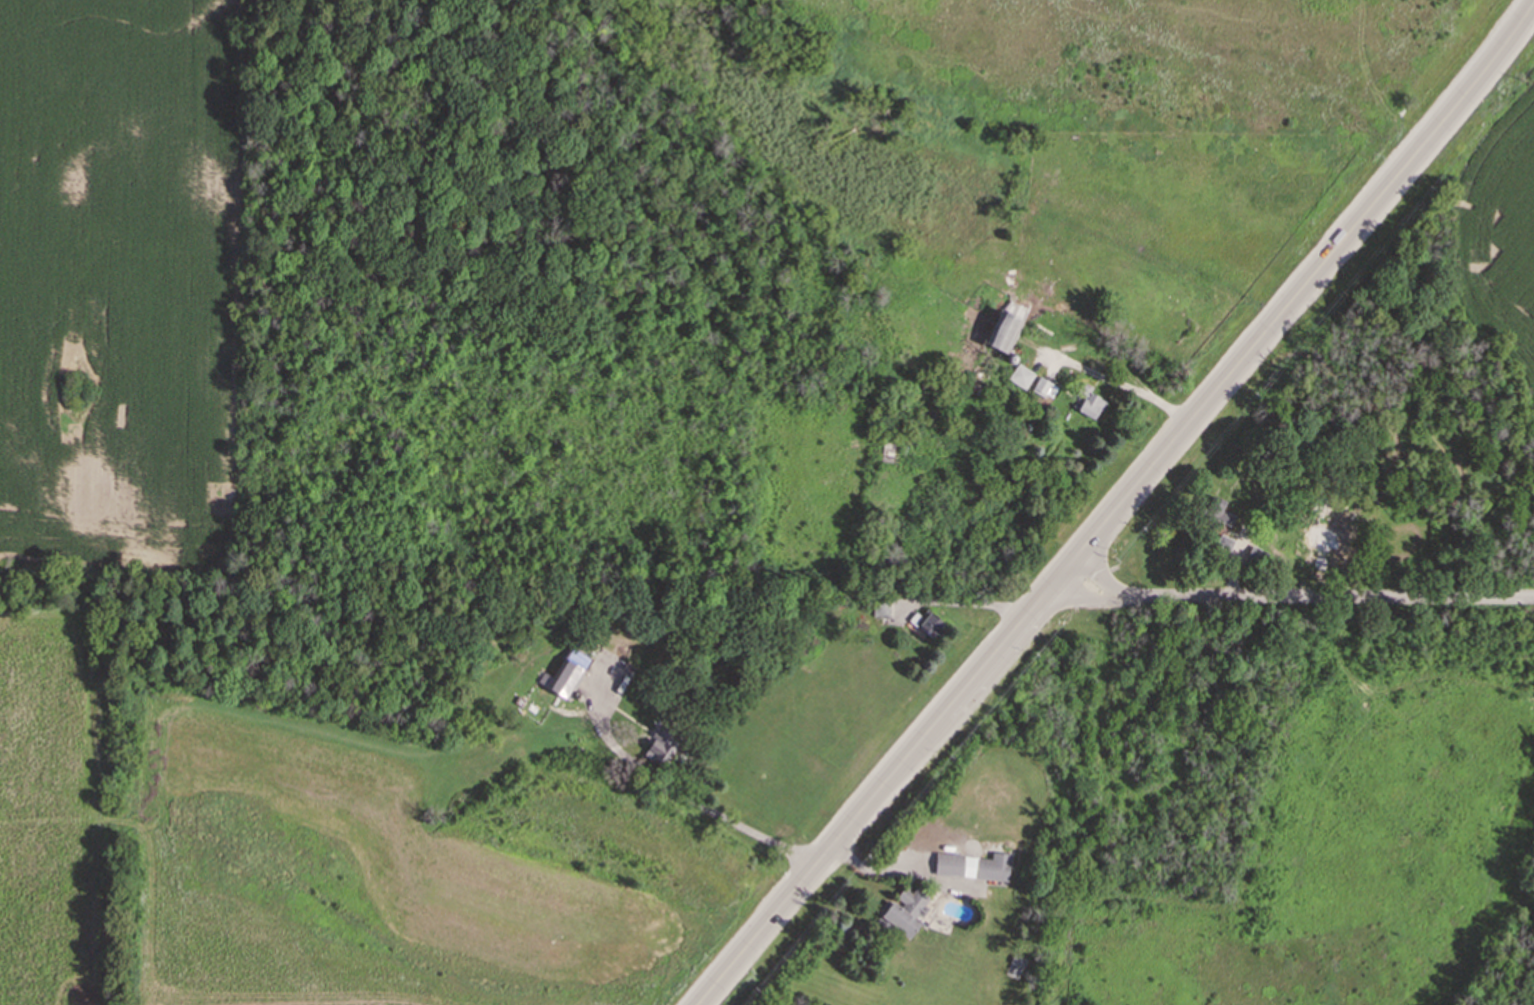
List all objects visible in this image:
crop: (119, 282)
building: (1003, 330)
building: (1020, 375)
building: (1044, 387)
building: (1091, 405)
road: (1118, 506)
building: (1217, 511)
building: (1223, 544)
road: (1105, 580)
road: (1336, 598)
road: (1093, 599)
building: (880, 608)
building: (926, 622)
building: (565, 673)
building: (661, 746)
road: (696, 798)
building: (972, 865)
road: (884, 871)
building: (905, 910)

